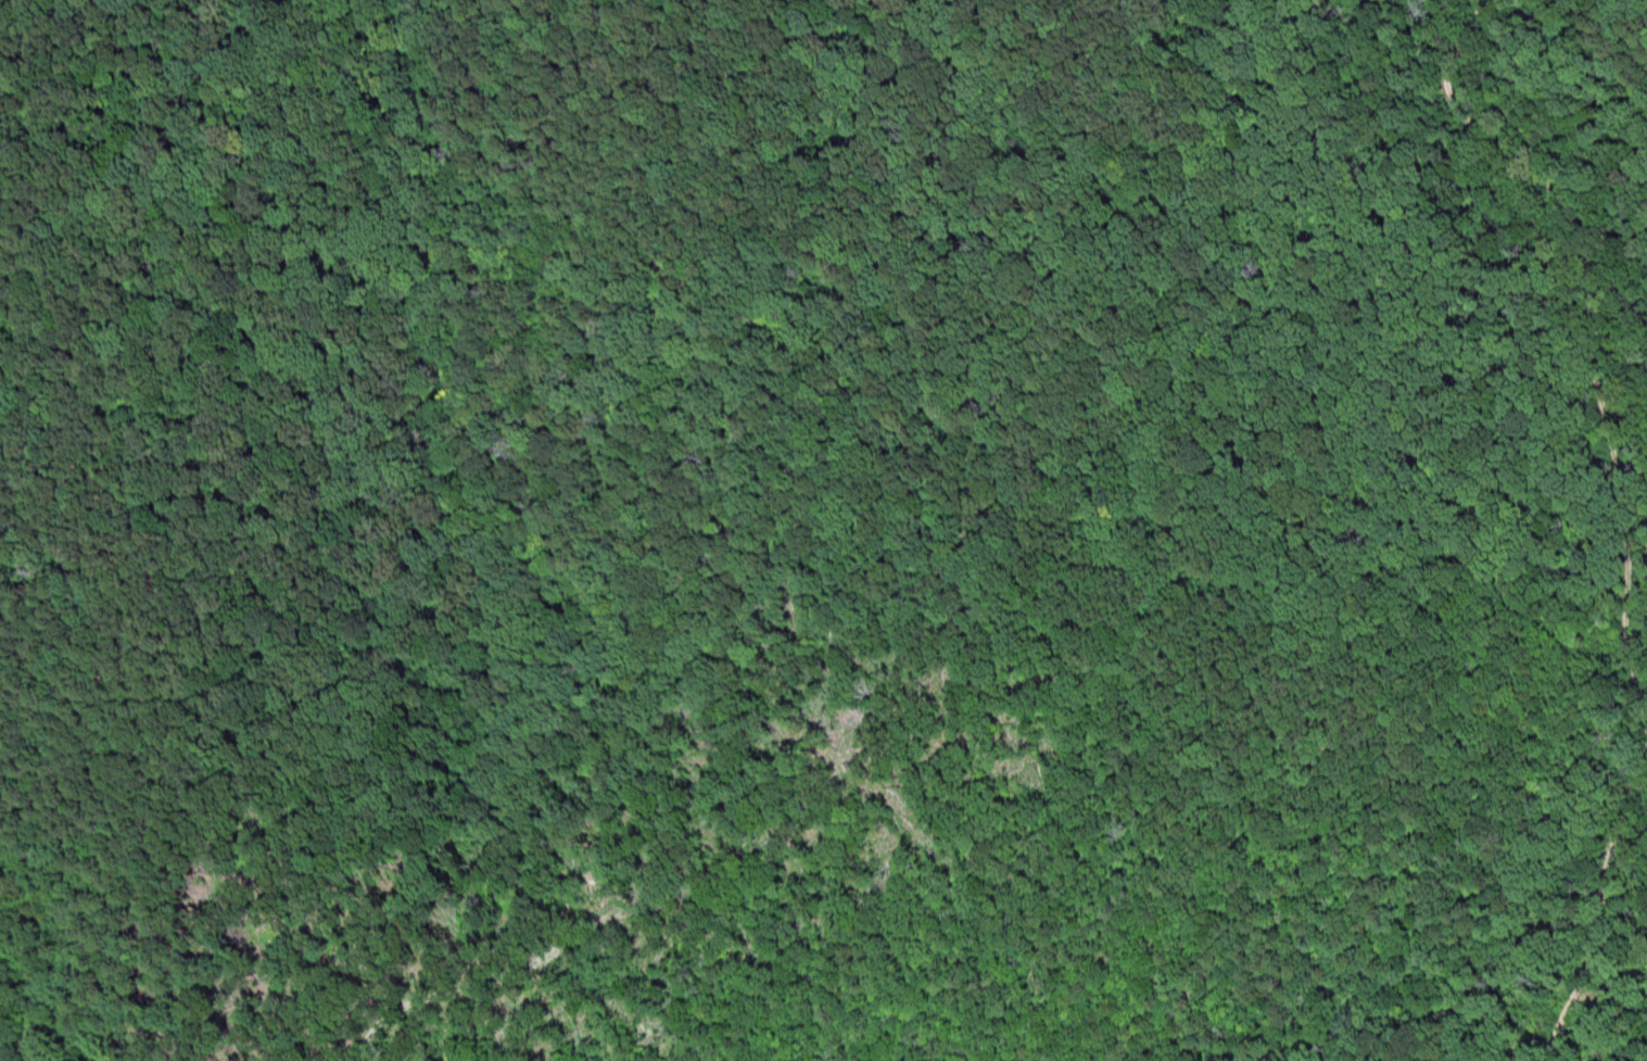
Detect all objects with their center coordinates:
road: (1421, 27)
road: (1591, 509)

